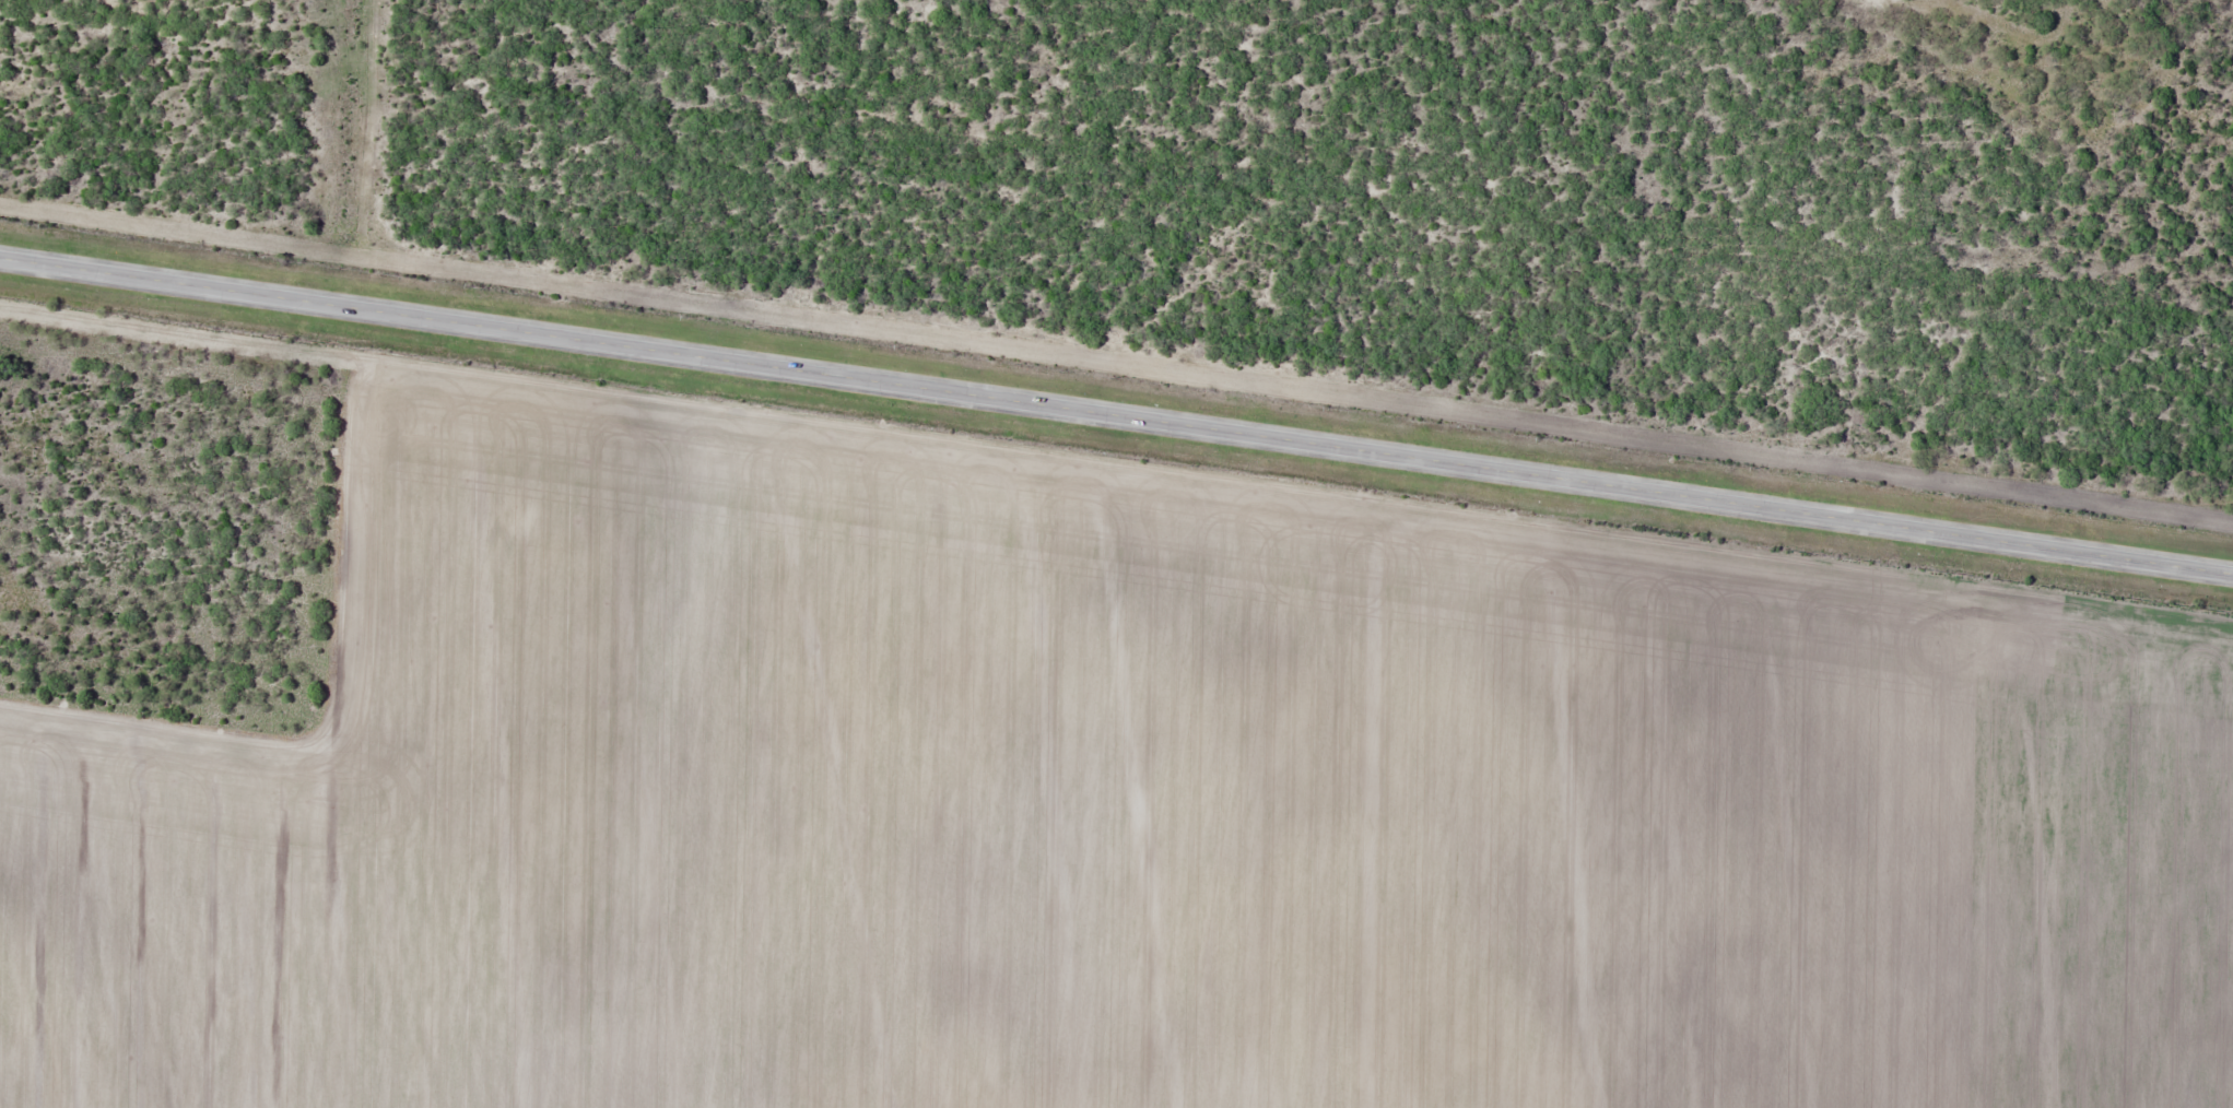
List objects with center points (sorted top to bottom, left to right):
road: (1116, 416)

